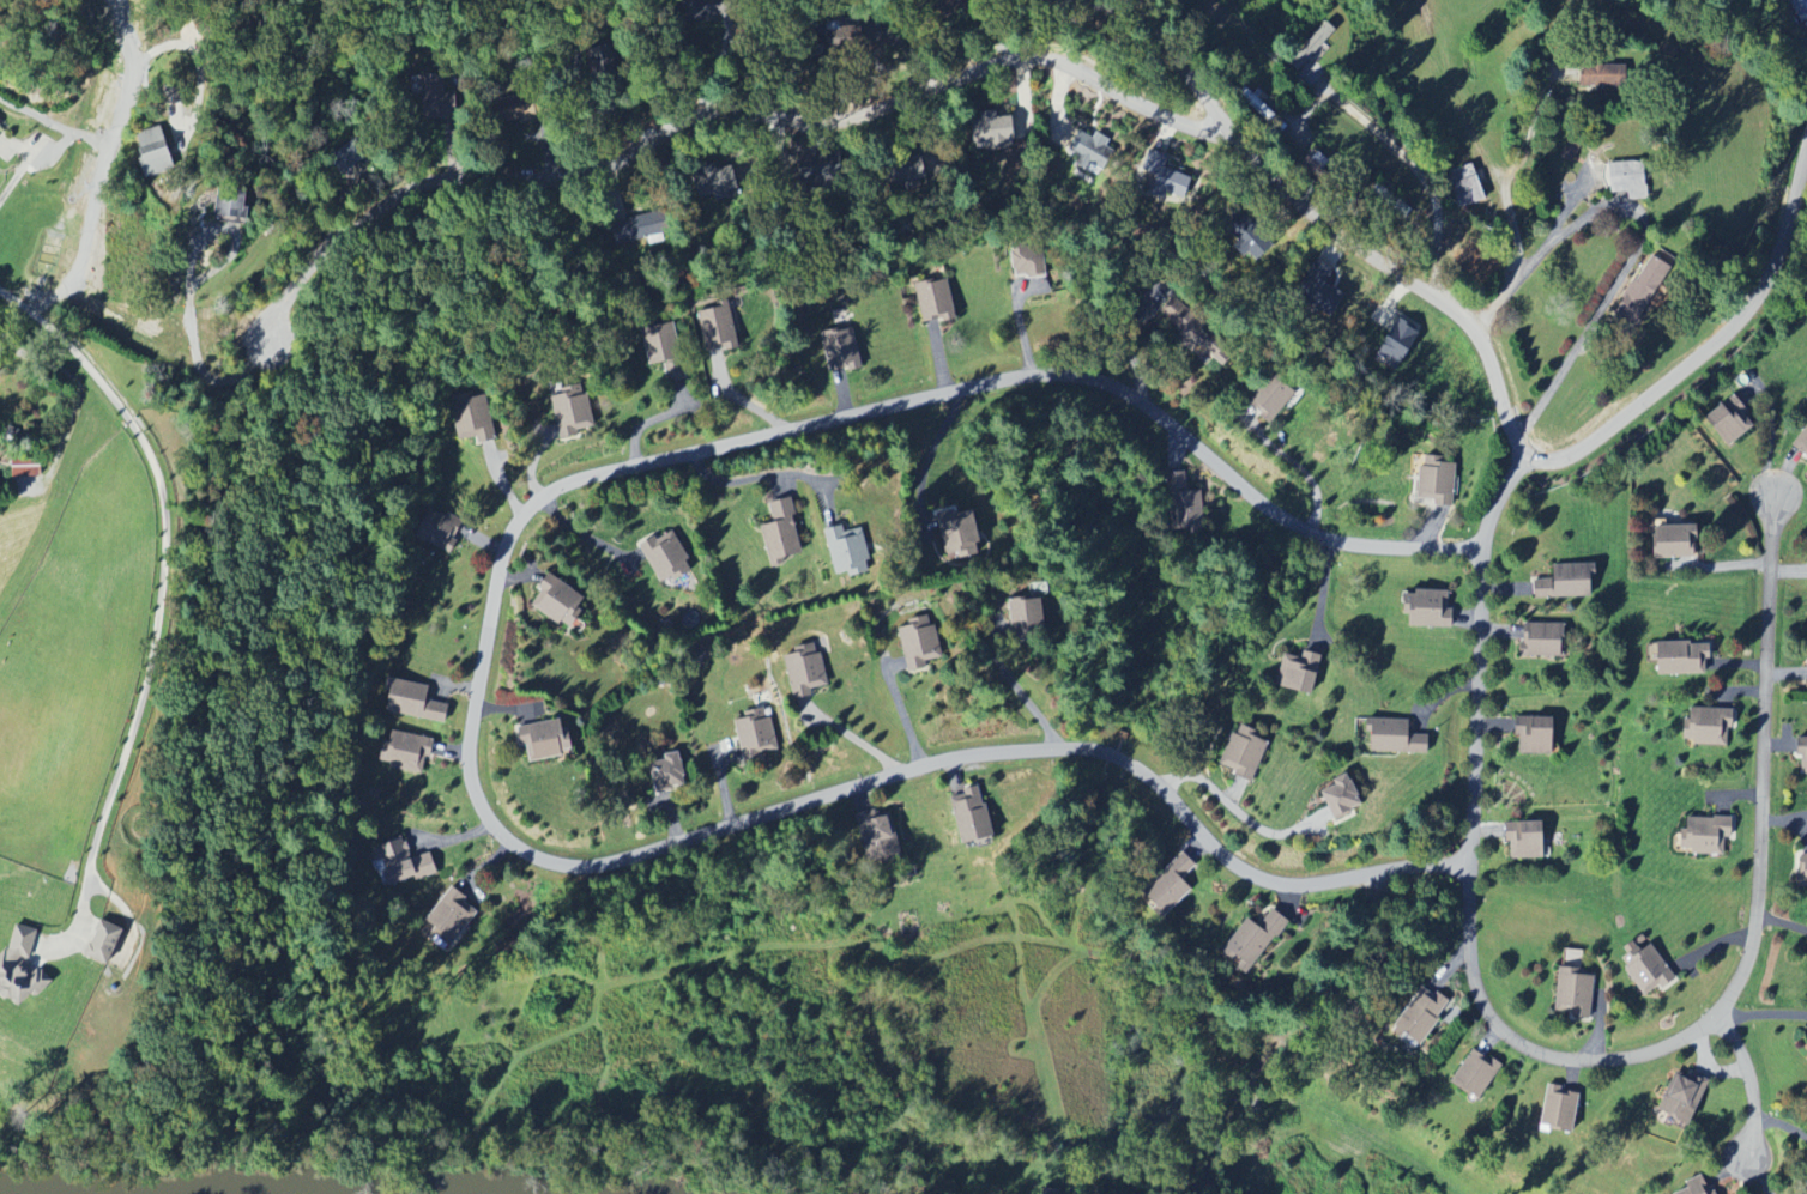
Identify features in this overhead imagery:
building: (1800, 8)
road: (1184, 73)
building: (1609, 75)
road: (721, 117)
road: (54, 122)
building: (0, 126)
road: (1531, 127)
road: (116, 128)
building: (990, 131)
building: (1090, 150)
building: (1571, 150)
building: (157, 152)
road: (30, 157)
road: (1418, 170)
building: (1634, 178)
building: (1176, 183)
building: (1465, 184)
building: (230, 205)
road: (1516, 235)
building: (1028, 259)
road: (191, 286)
building: (1644, 289)
building: (936, 301)
building: (718, 329)
building: (1193, 329)
road: (67, 339)
road: (1129, 341)
building: (1402, 344)
building: (663, 348)
building: (841, 348)
road: (1573, 352)
road: (75, 383)
building: (1273, 396)
building: (570, 411)
building: (472, 420)
building: (1733, 420)
road: (1770, 435)
building: (1801, 442)
road: (1530, 456)
building: (25, 467)
road: (767, 475)
building: (1439, 479)
building: (1187, 511)
building: (785, 533)
building: (962, 533)
building: (1678, 541)
building: (852, 551)
building: (667, 557)
building: (1570, 581)
building: (560, 601)
building: (1433, 608)
building: (1027, 617)
building: (1545, 640)
building: (920, 643)
building: (1686, 657)
building: (1300, 671)
building: (808, 672)
road: (146, 674)
road: (481, 689)
road: (1019, 690)
building: (416, 702)
road: (906, 721)
building: (1709, 726)
building: (757, 734)
building: (1537, 734)
building: (1401, 737)
building: (546, 740)
building: (407, 751)
building: (1803, 752)
building: (1247, 754)
building: (670, 771)
building: (1349, 798)
road: (1238, 811)
building: (975, 816)
building: (881, 835)
building: (1709, 835)
building: (1529, 840)
building: (404, 862)
building: (1803, 871)
building: (1172, 887)
building: (453, 916)
building: (1256, 941)
building: (113, 944)
building: (1571, 958)
building: (22, 968)
building: (1650, 969)
building: (1576, 993)
road: (1761, 1013)
building: (1424, 1019)
road: (1577, 1060)
building: (1477, 1073)
road: (1748, 1079)
building: (1684, 1099)
building: (1560, 1109)
building: (1700, 1186)
building: (1051, 1190)

